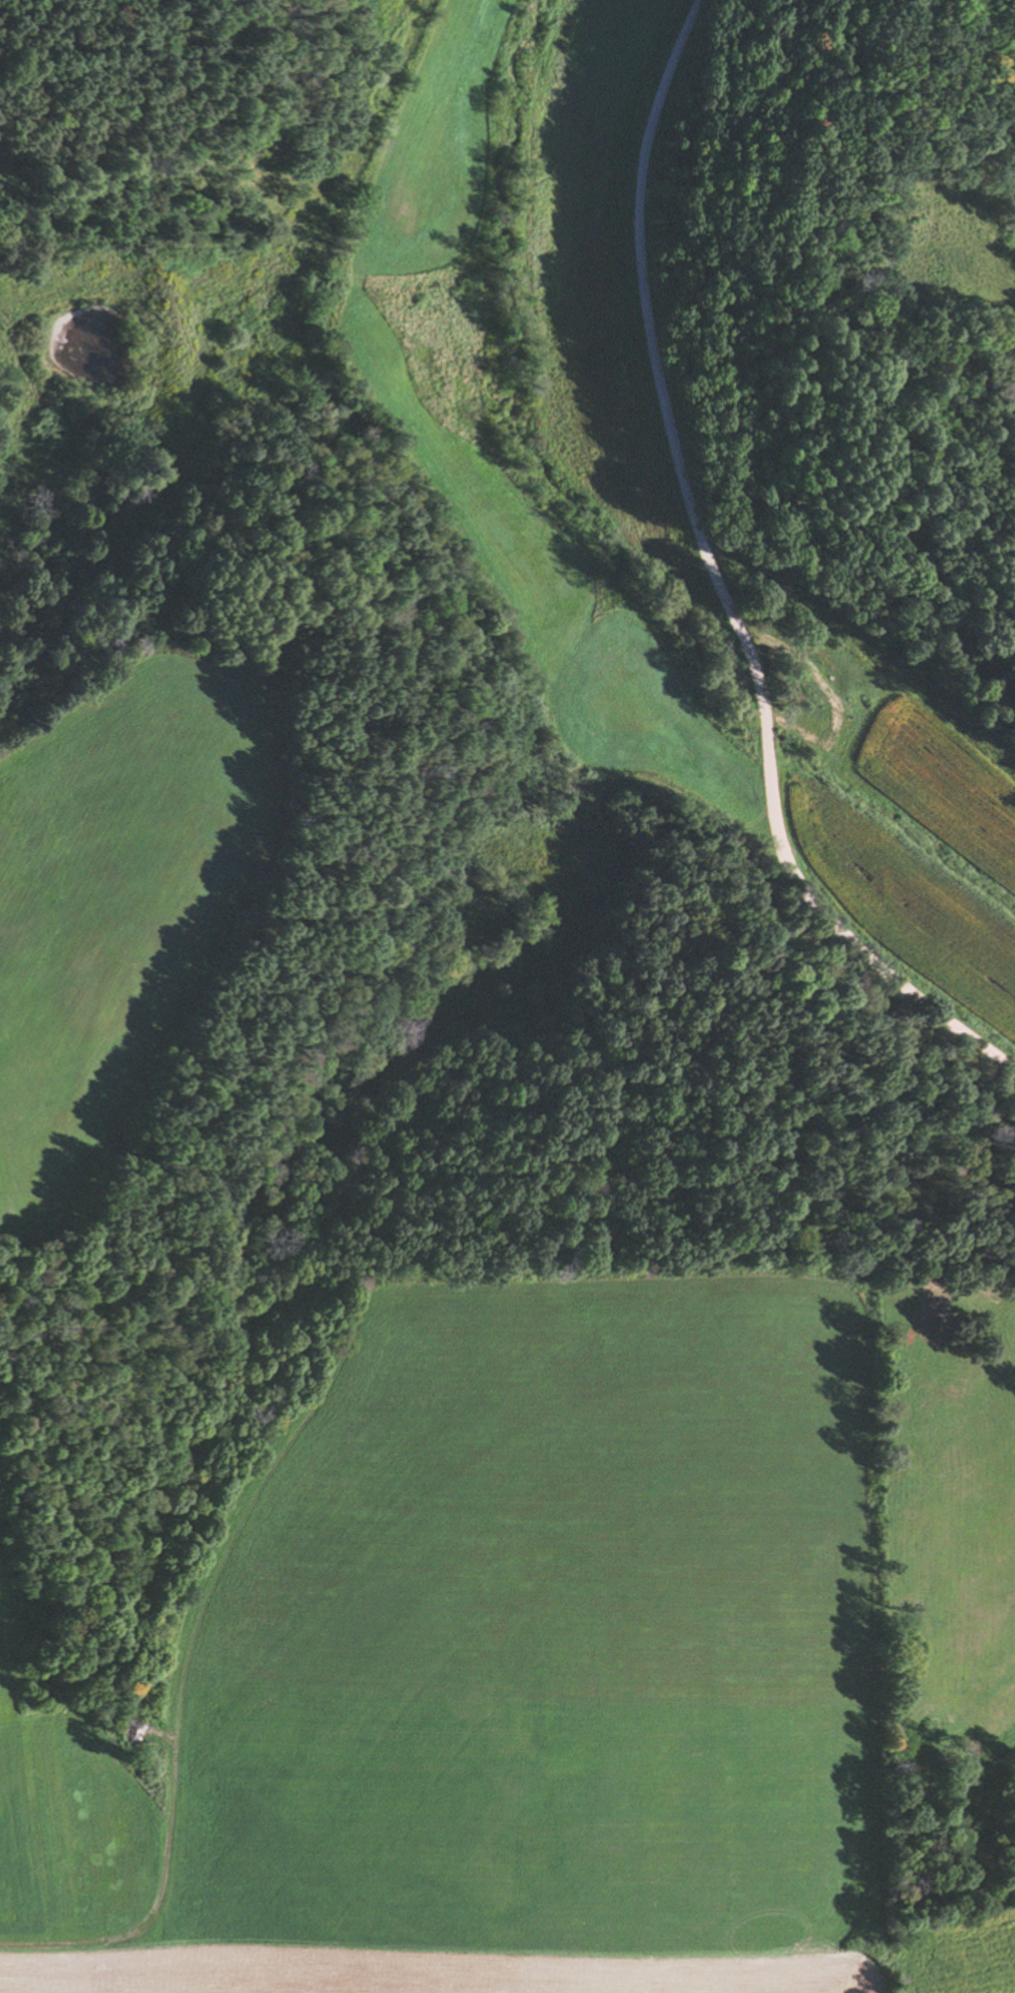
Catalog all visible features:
road: (722, 578)

